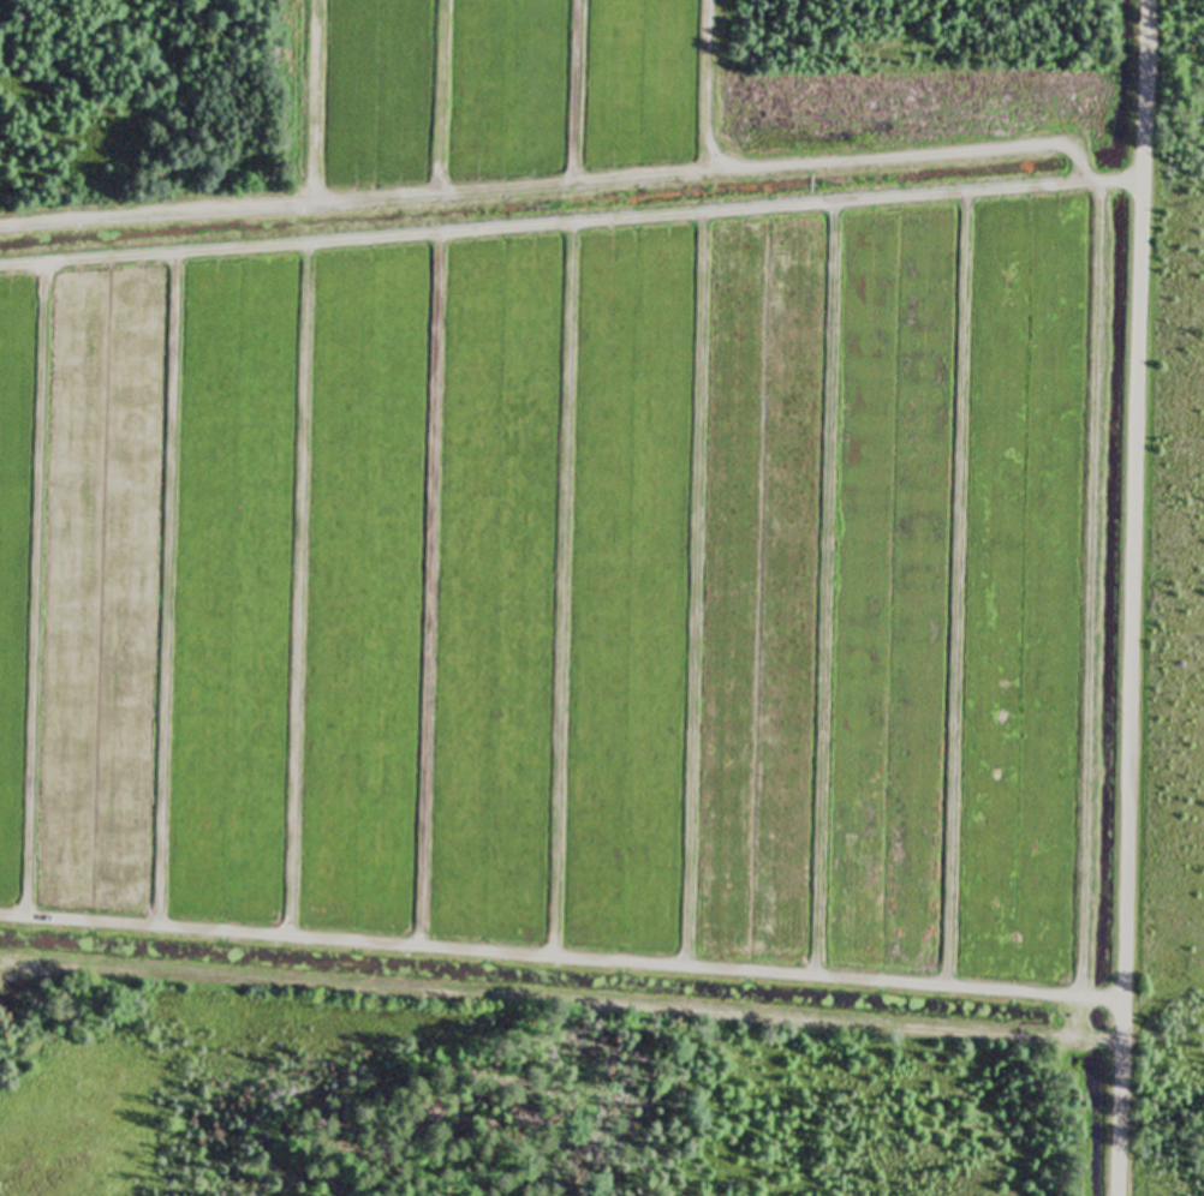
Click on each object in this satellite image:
crop: (505, 88)
crop: (561, 590)
road: (1130, 597)

